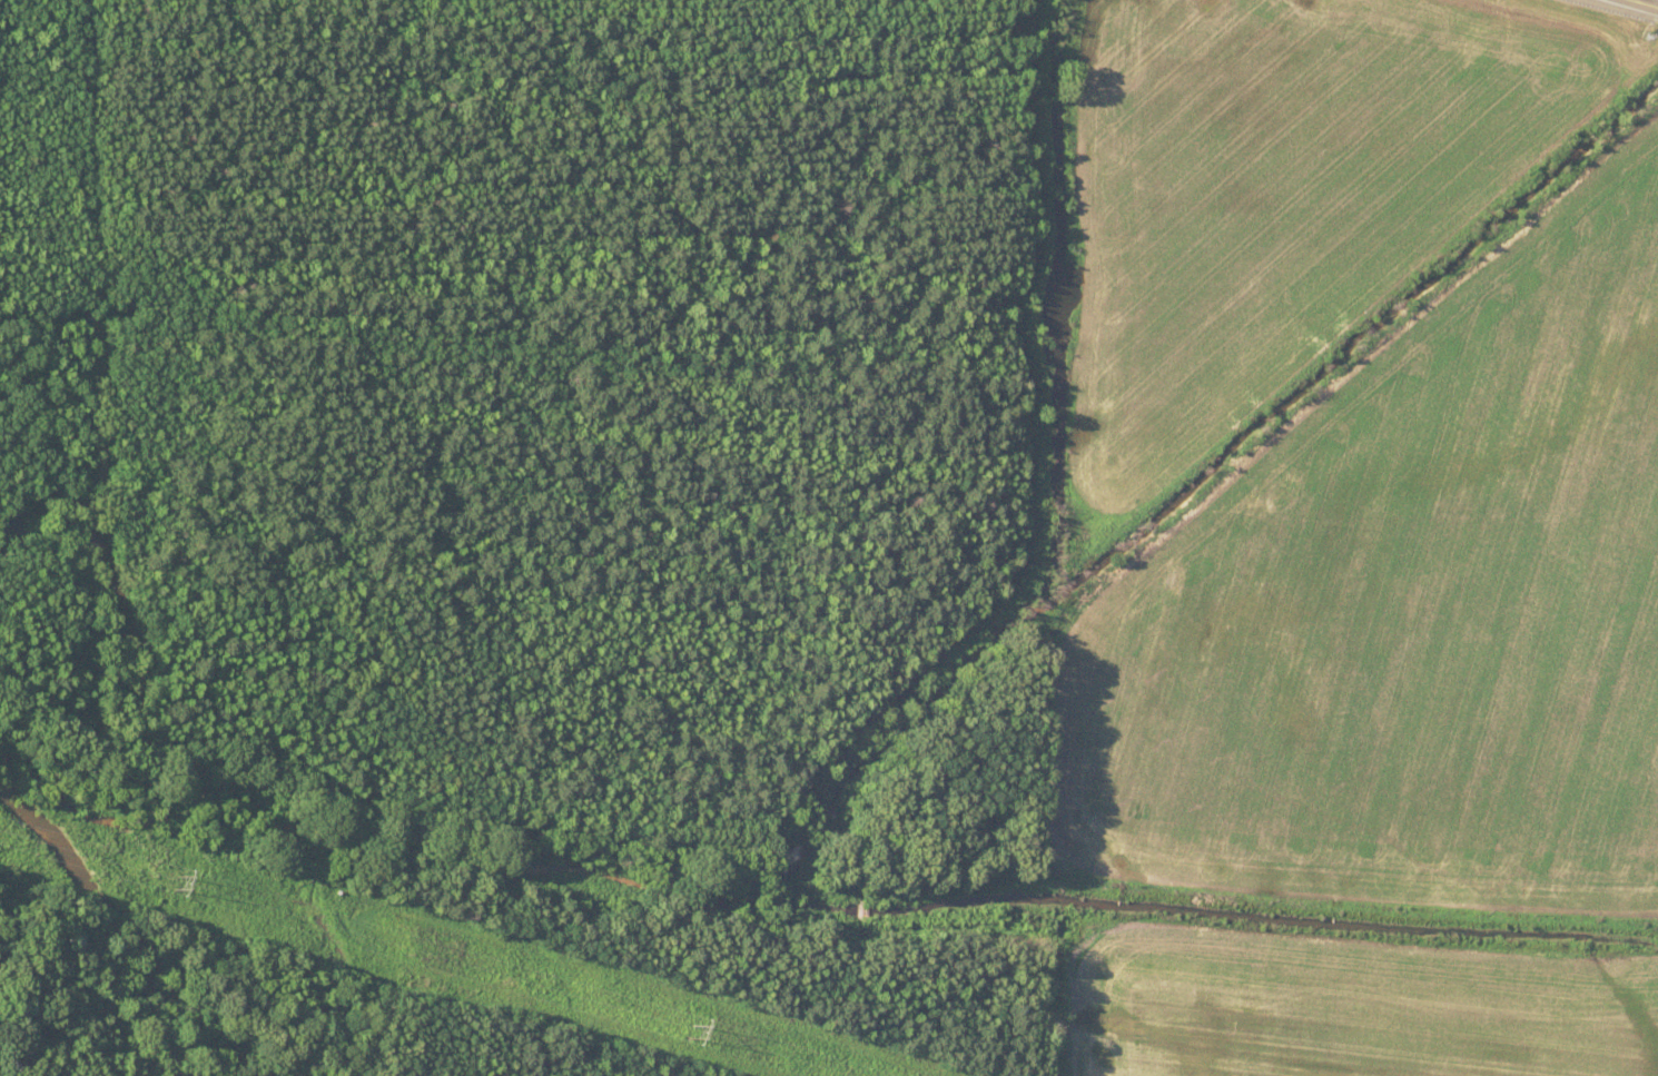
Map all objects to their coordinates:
road: (1652, 1)
power tower: (167, 881)
power tower: (682, 1030)

